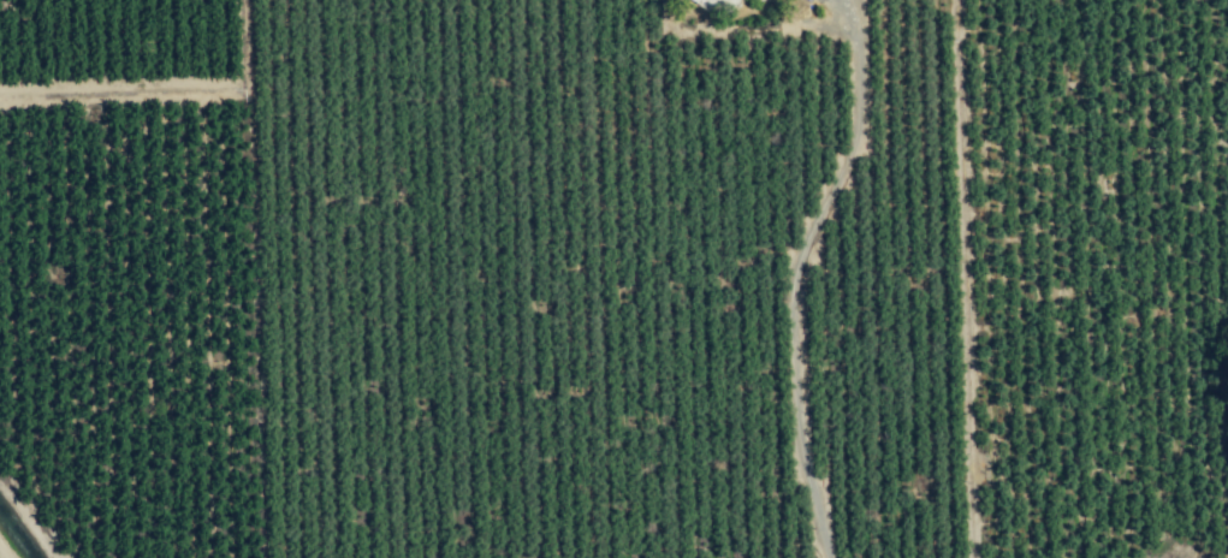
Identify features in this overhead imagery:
building: (700, 1)
road: (796, 277)
crop: (613, 279)
river: (13, 539)

